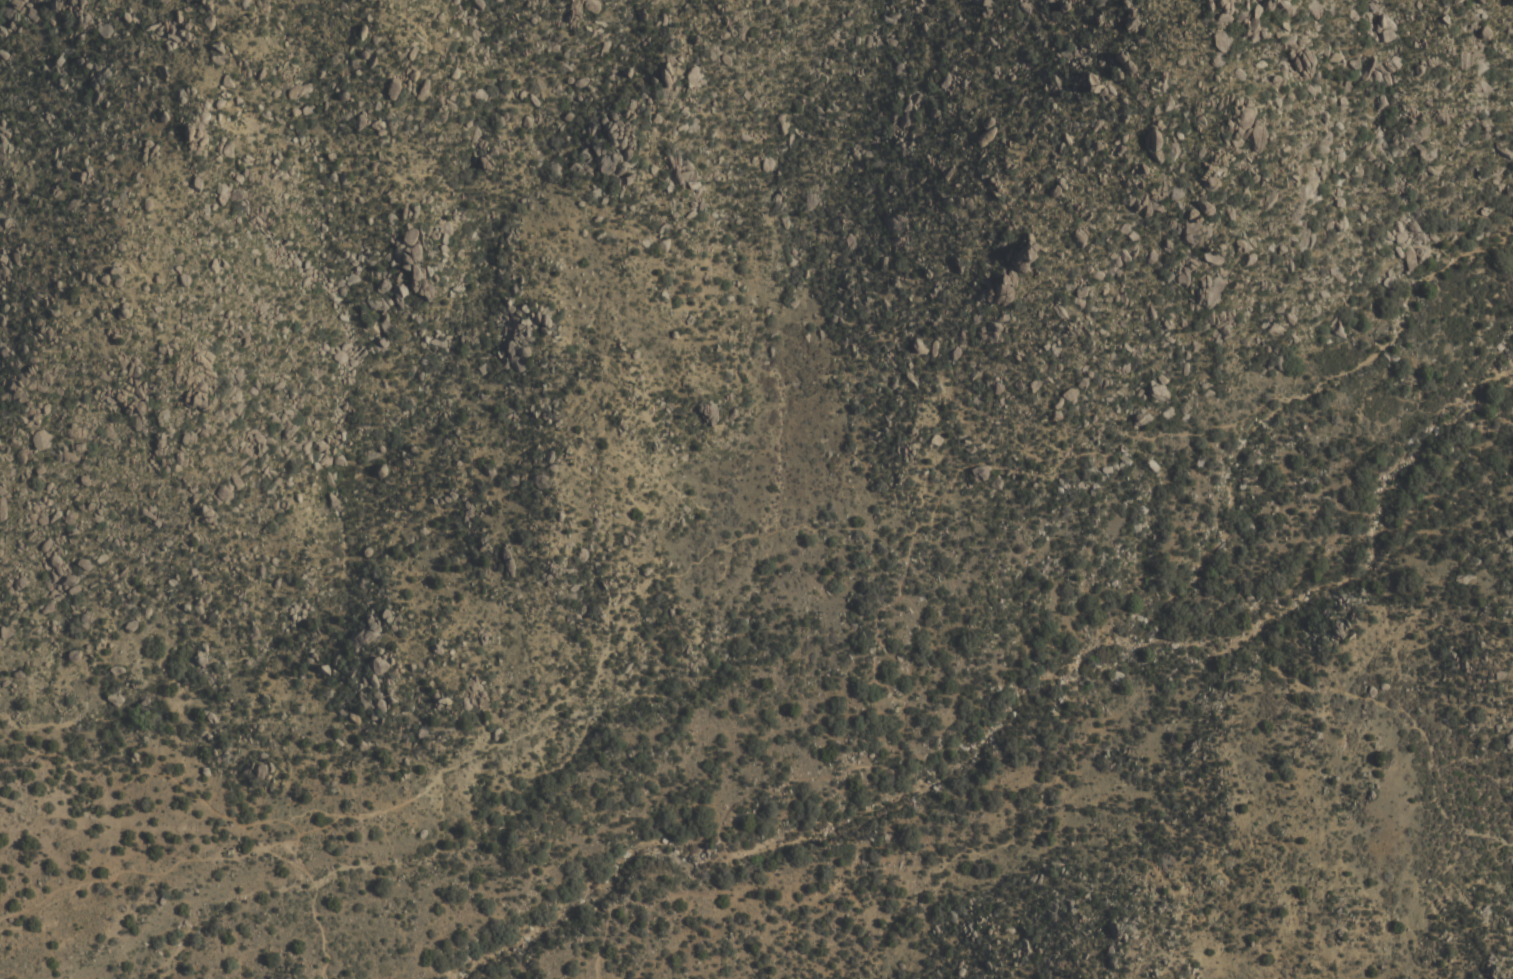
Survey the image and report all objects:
building: (617, 142)
building: (518, 359)
building: (1160, 392)
road: (923, 525)
road: (472, 762)
road: (187, 857)
park: (157, 918)

